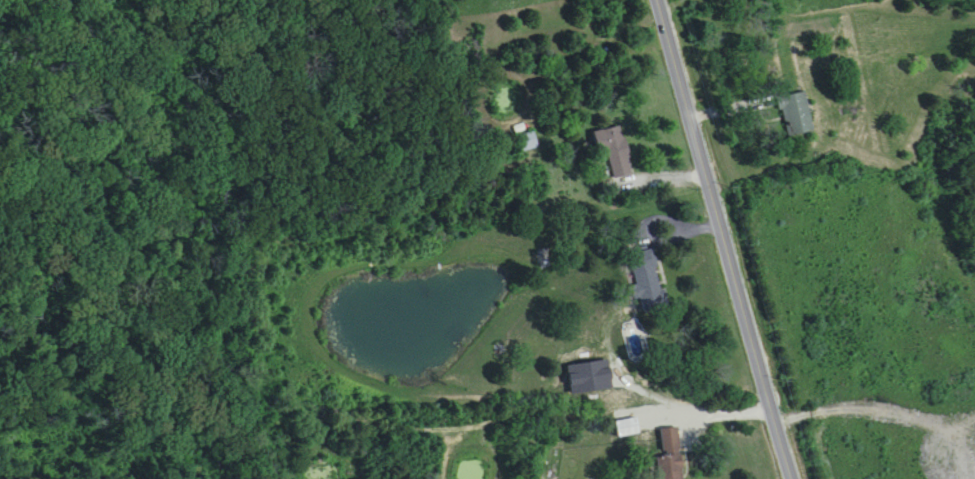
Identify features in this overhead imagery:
building: (796, 114)
building: (529, 142)
building: (615, 151)
road: (643, 179)
road: (674, 229)
road: (724, 239)
building: (648, 282)
building: (608, 382)
road: (663, 400)
building: (671, 455)

